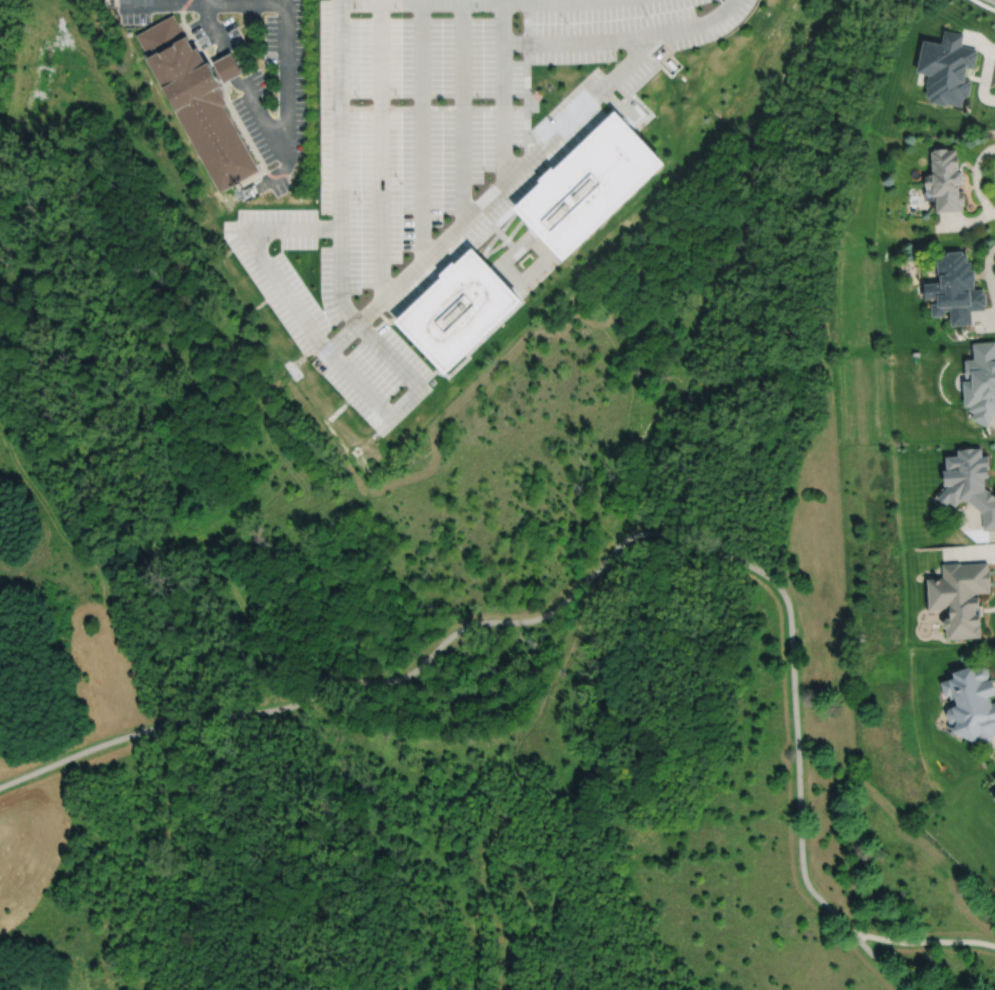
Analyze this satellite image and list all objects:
road: (466, 2)
road: (985, 5)
road: (286, 14)
road: (623, 38)
building: (225, 67)
building: (945, 69)
parking lot: (254, 73)
road: (239, 81)
road: (502, 91)
building: (199, 103)
road: (462, 111)
road: (340, 113)
road: (421, 127)
road: (379, 146)
parking lot: (436, 157)
road: (994, 160)
building: (944, 181)
building: (589, 185)
road: (494, 191)
building: (954, 291)
building: (458, 312)
road: (352, 378)
building: (980, 382)
building: (968, 482)
road: (697, 546)
building: (959, 596)
road: (465, 629)
building: (971, 702)
road: (218, 718)
road: (797, 734)
road: (93, 749)
building: (994, 778)
building: (994, 798)
road: (925, 942)
road: (879, 963)

